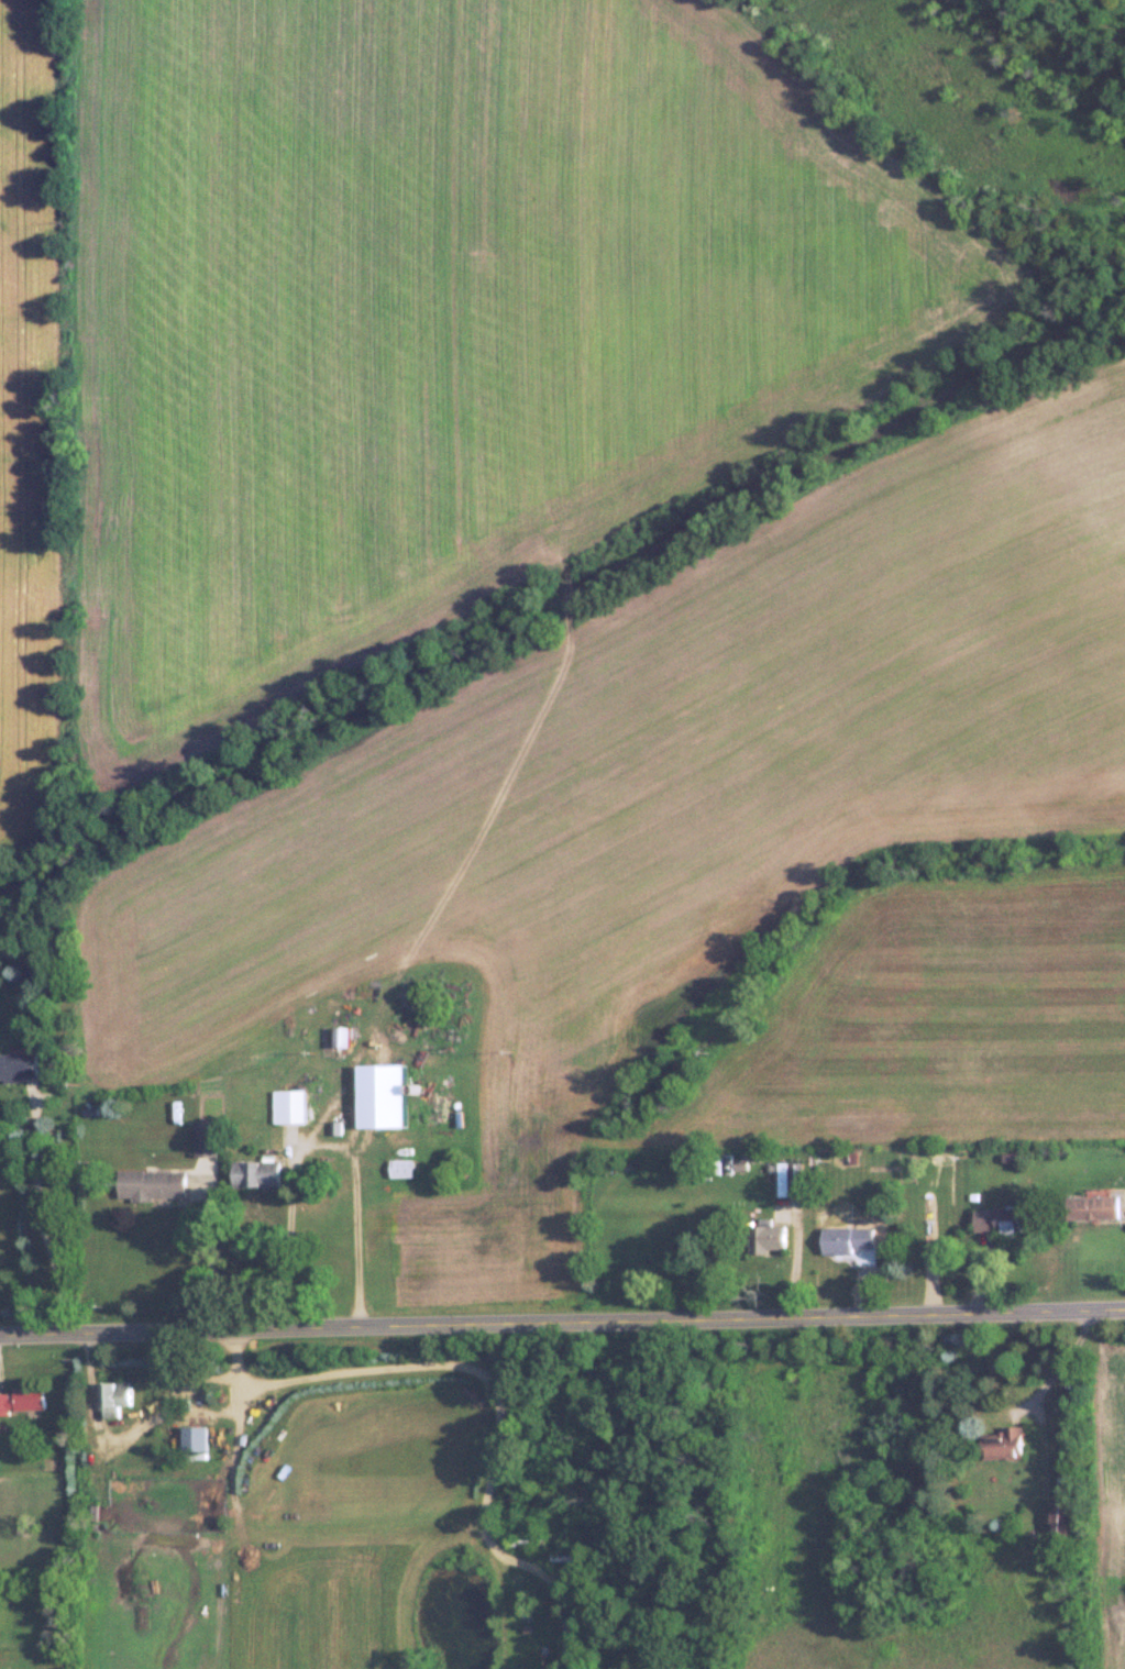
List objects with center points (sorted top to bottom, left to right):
building: (342, 1035)
building: (18, 1065)
building: (382, 1094)
building: (291, 1105)
building: (205, 1138)
road: (322, 1147)
building: (400, 1168)
building: (255, 1172)
building: (150, 1183)
building: (1090, 1206)
road: (38, 1217)
building: (996, 1219)
building: (766, 1237)
building: (845, 1238)
road: (210, 1259)
road: (562, 1327)
road: (235, 1369)
road: (399, 1370)
building: (113, 1397)
building: (21, 1401)
building: (1002, 1443)
building: (1060, 1516)

